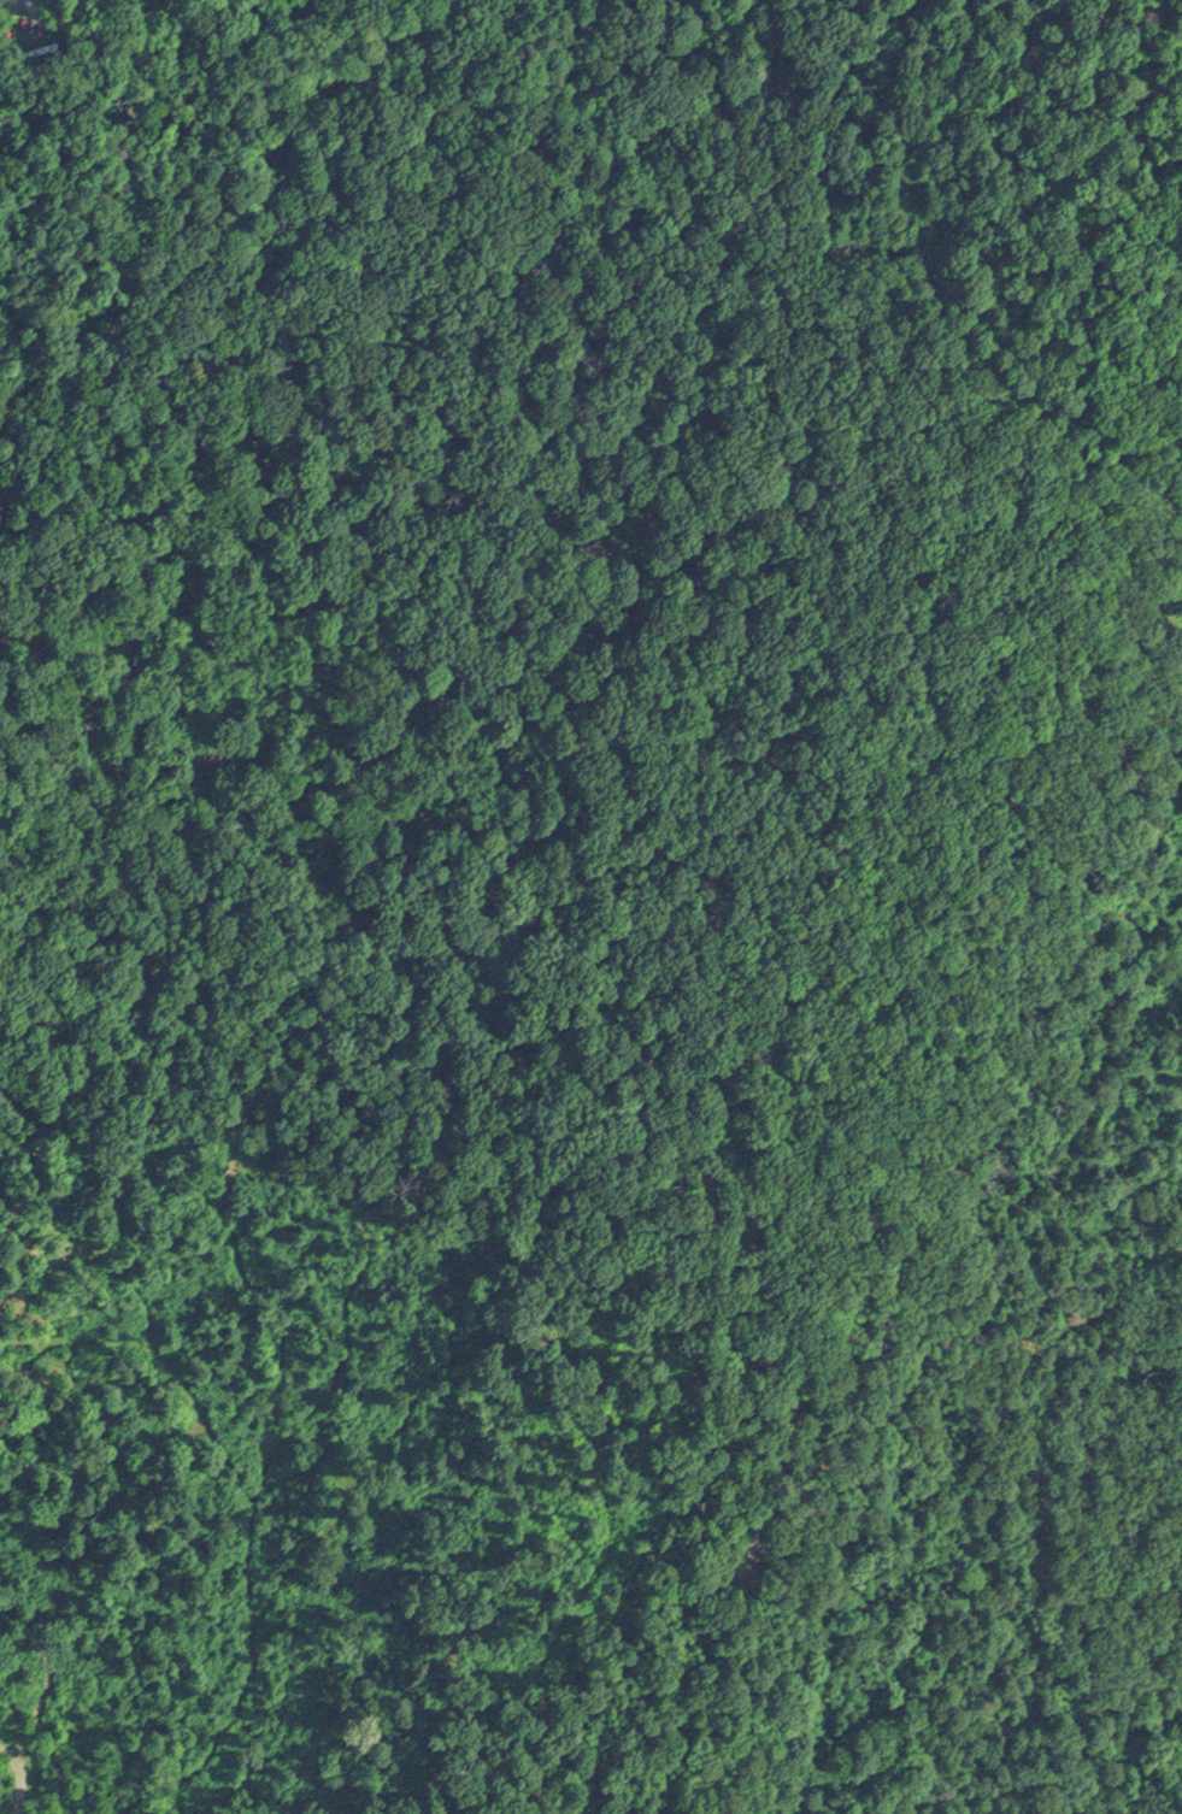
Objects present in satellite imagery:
road: (18, 1779)

